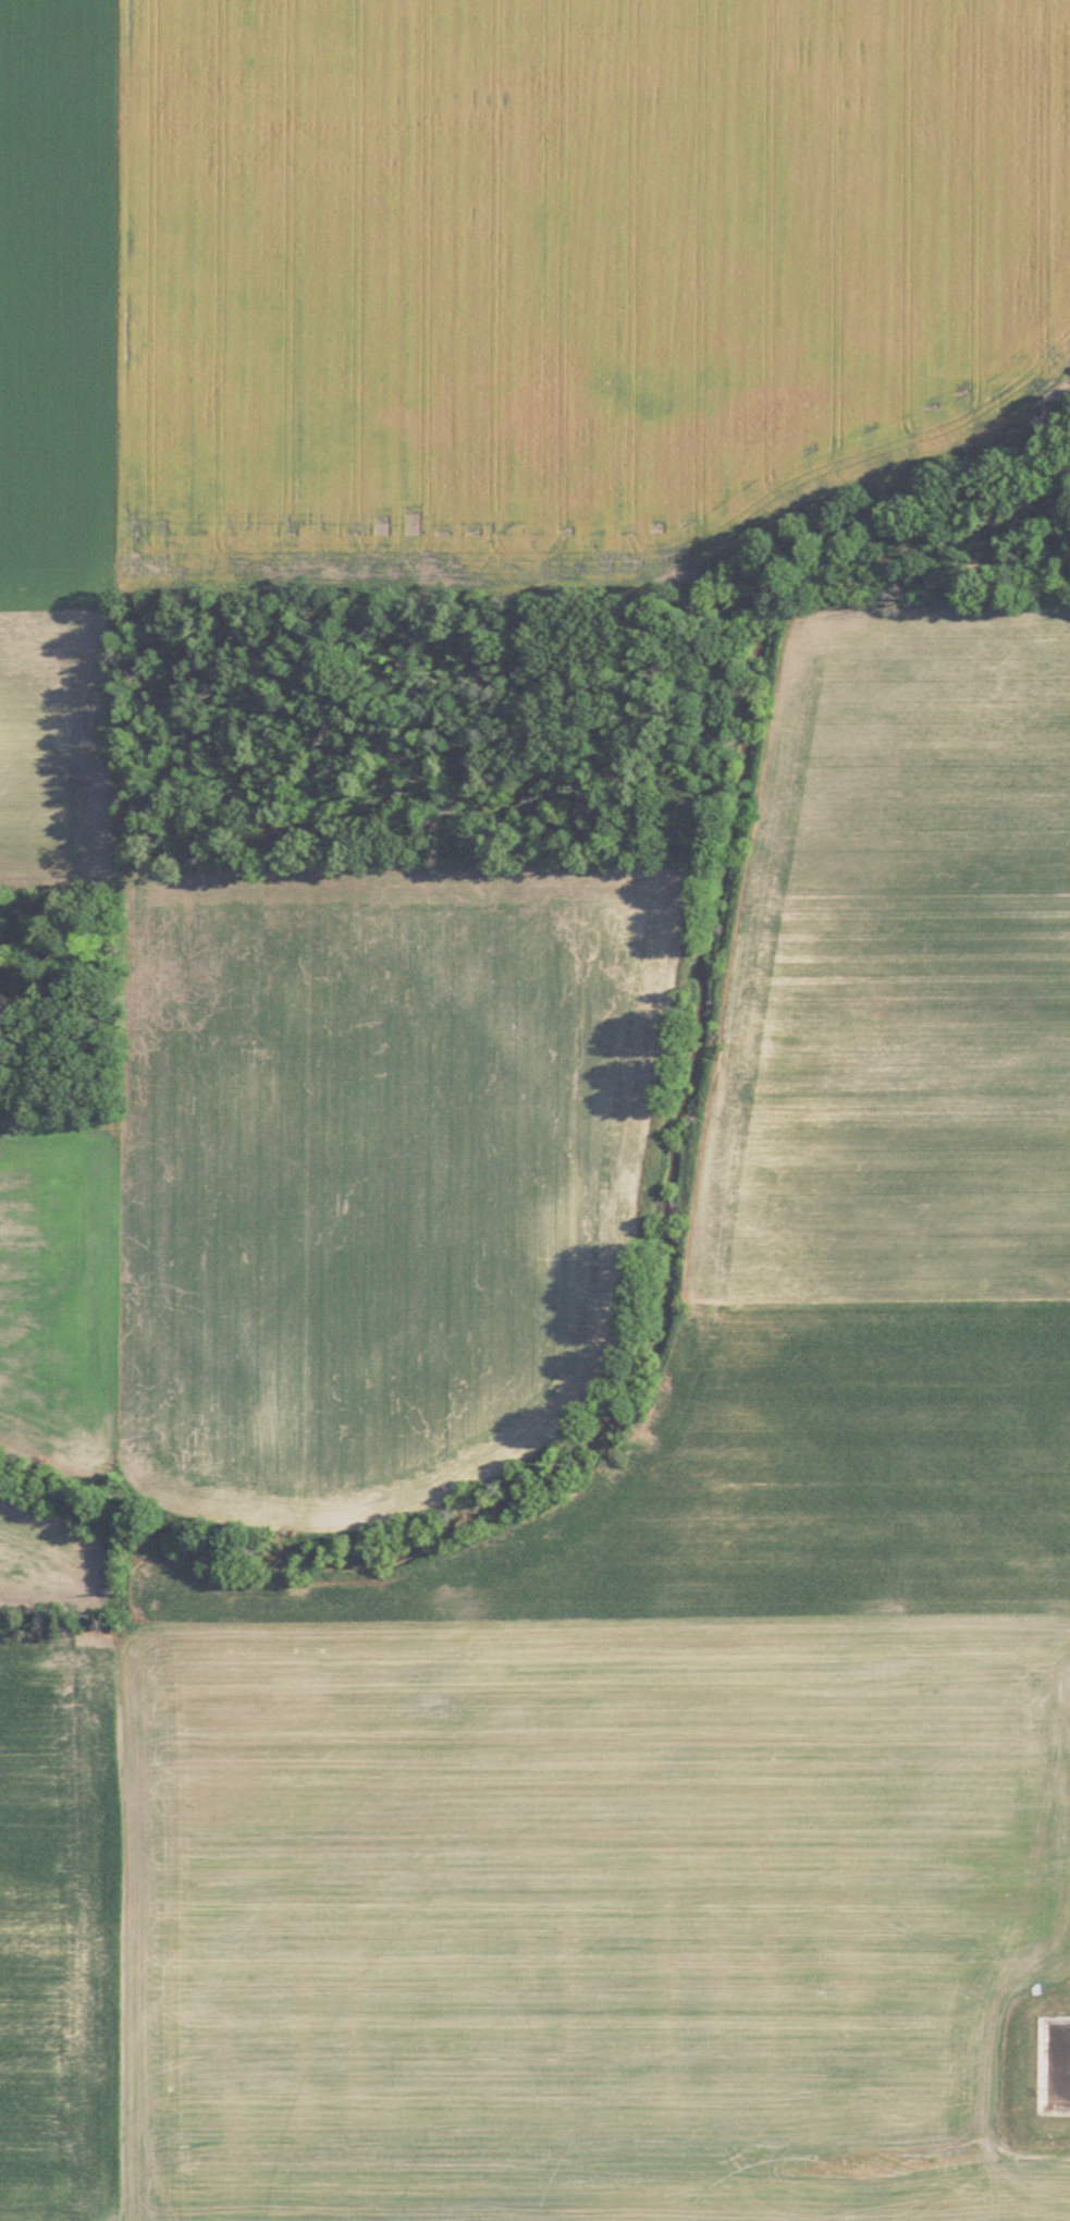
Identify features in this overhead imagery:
river: (668, 1164)

